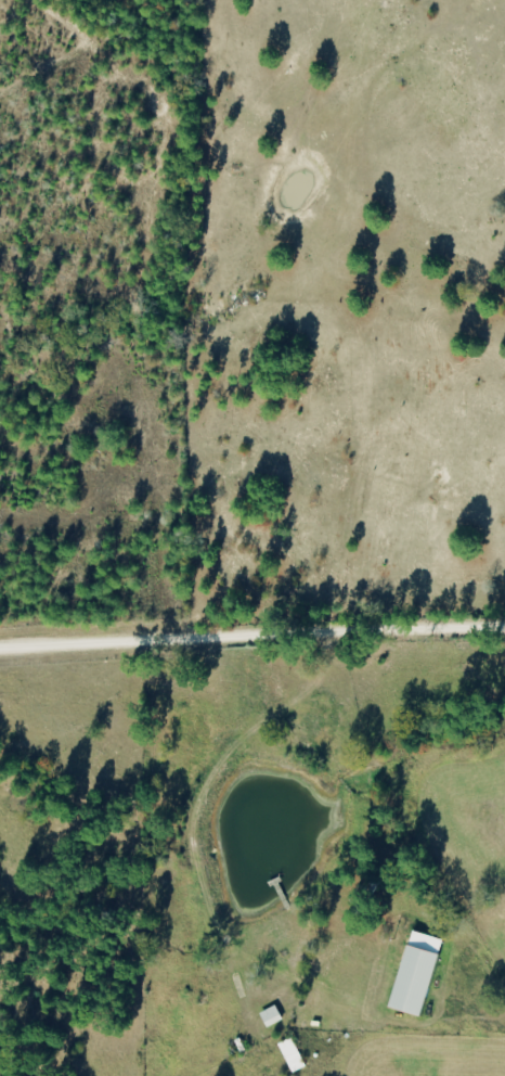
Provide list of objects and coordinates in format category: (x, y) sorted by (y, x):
road: (252, 628)
building: (413, 973)
building: (270, 1016)
building: (290, 1055)

